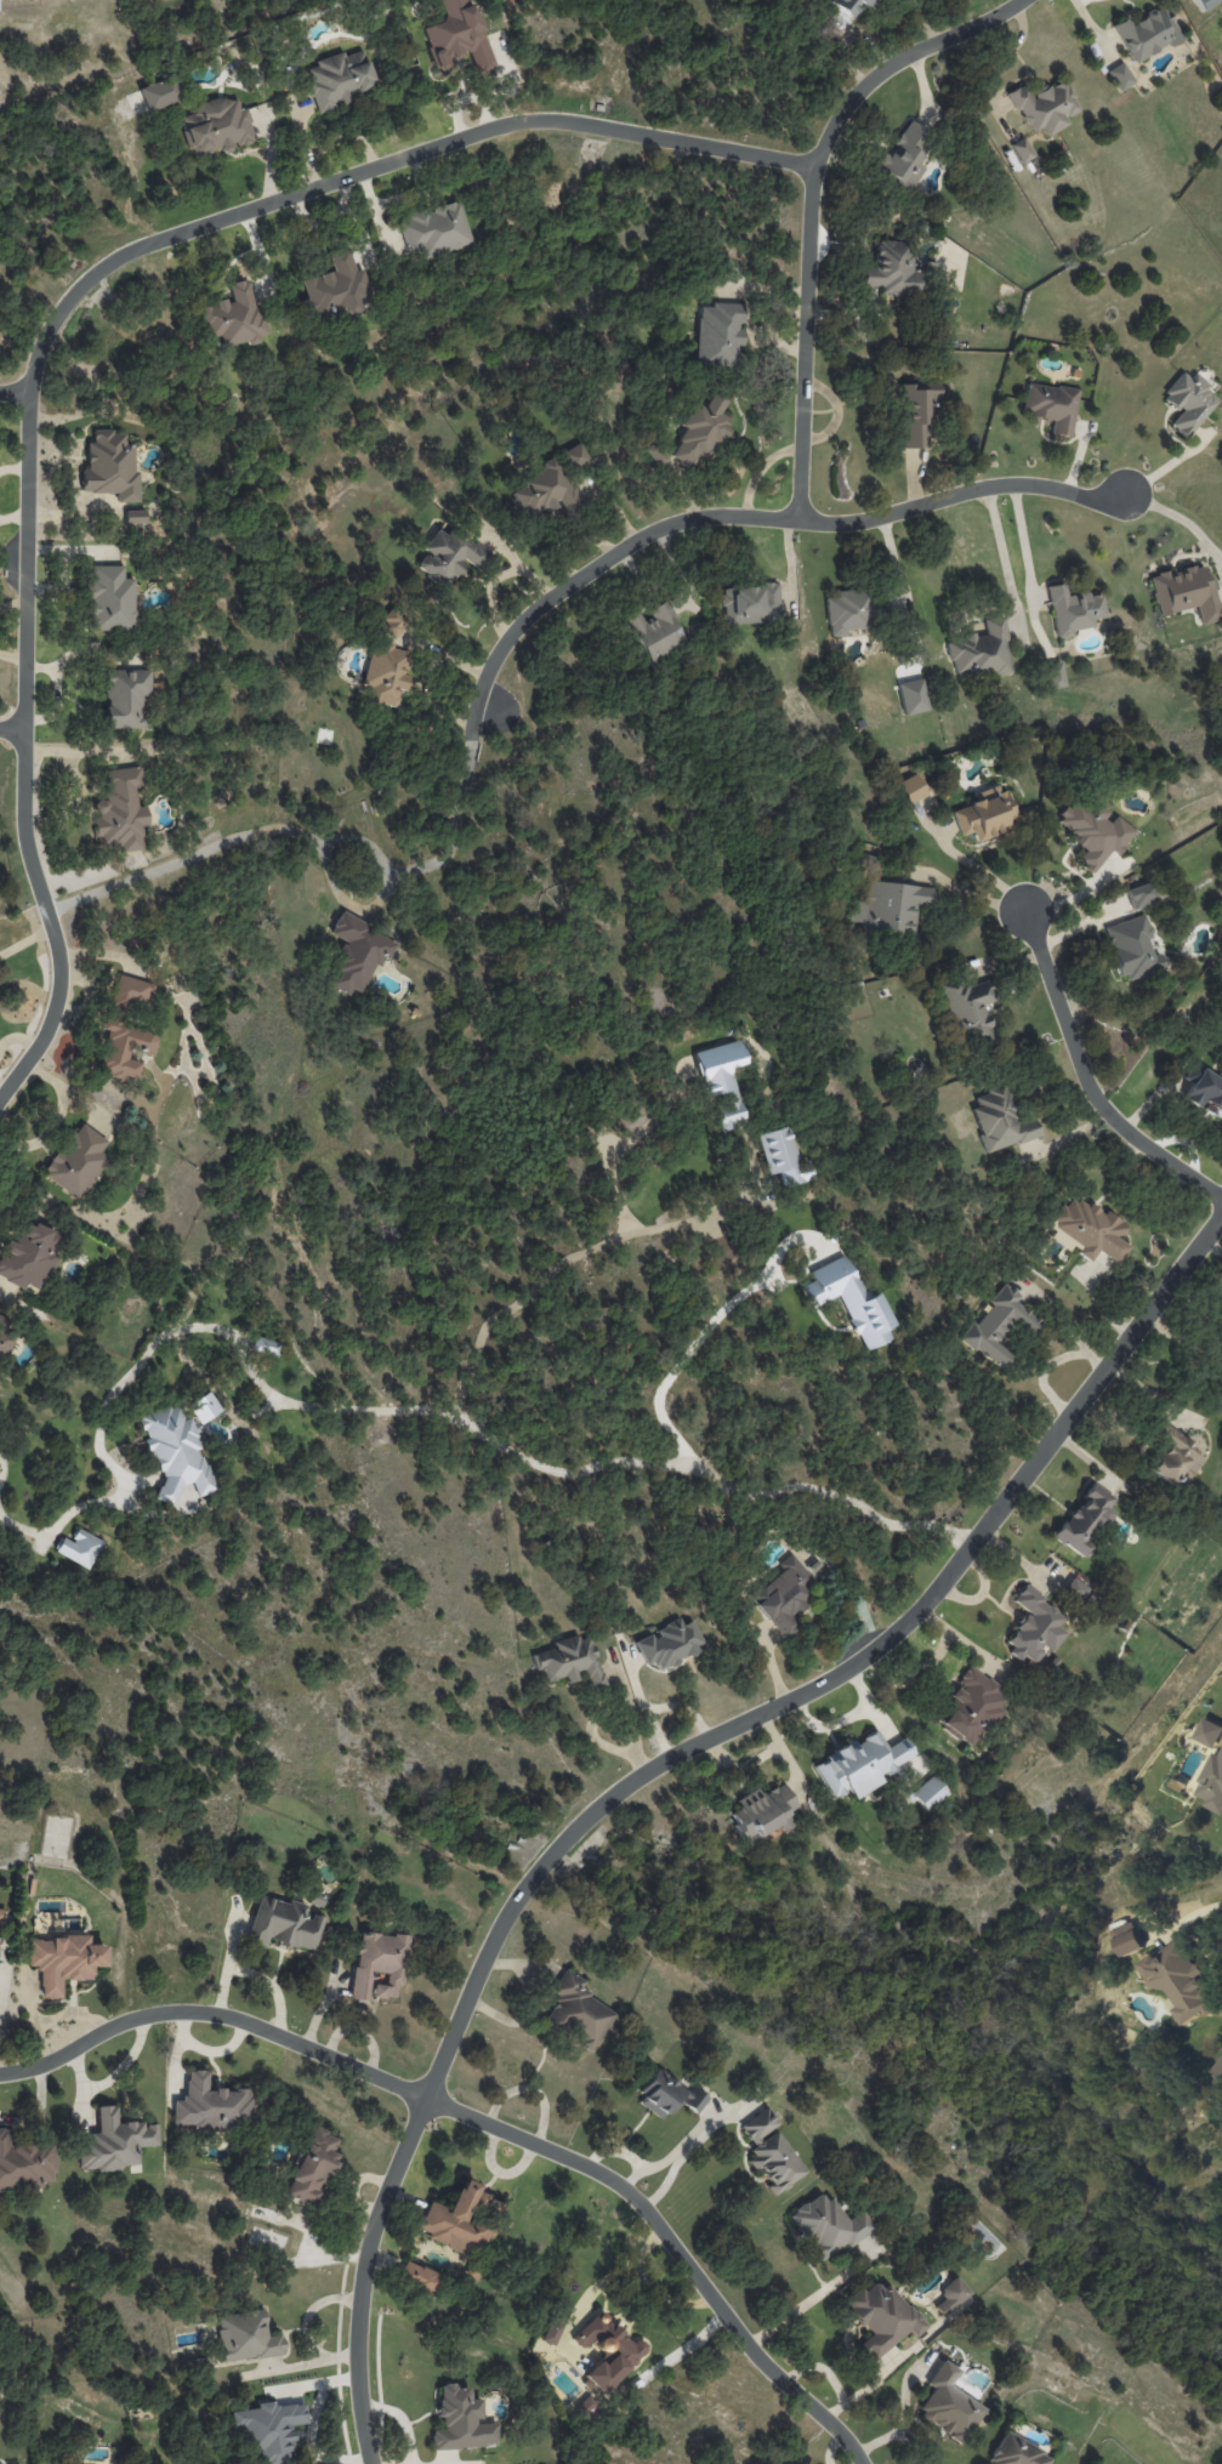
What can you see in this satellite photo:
building: (849, 6)
building: (1221, 6)
building: (1146, 33)
building: (456, 35)
building: (1120, 75)
building: (339, 79)
building: (158, 93)
building: (1044, 107)
building: (215, 126)
building: (1022, 150)
building: (905, 158)
road: (809, 204)
building: (434, 229)
building: (892, 268)
road: (56, 314)
building: (234, 317)
building: (718, 334)
road: (16, 391)
building: (1188, 402)
building: (1051, 405)
building: (917, 411)
building: (703, 431)
building: (655, 454)
building: (575, 455)
building: (109, 466)
building: (545, 490)
road: (758, 514)
building: (133, 516)
road: (1023, 539)
building: (449, 554)
building: (1186, 592)
building: (109, 599)
building: (750, 603)
building: (1073, 609)
building: (847, 610)
building: (393, 624)
building: (654, 630)
building: (979, 650)
building: (387, 673)
building: (1053, 675)
building: (125, 698)
road: (12, 728)
building: (910, 787)
building: (120, 809)
building: (984, 813)
building: (1093, 831)
road: (328, 853)
building: (863, 860)
road: (981, 871)
road: (966, 893)
building: (1139, 894)
building: (891, 906)
road: (358, 914)
building: (1132, 949)
building: (356, 954)
building: (129, 992)
building: (967, 1008)
building: (124, 1048)
road: (1085, 1080)
building: (721, 1081)
building: (1204, 1091)
building: (999, 1120)
building: (781, 1156)
building: (76, 1161)
building: (1089, 1229)
building: (29, 1254)
road: (556, 1267)
building: (848, 1301)
building: (998, 1325)
building: (4, 1336)
building: (263, 1345)
road: (687, 1354)
building: (203, 1406)
road: (403, 1406)
building: (175, 1452)
building: (1175, 1456)
road: (2, 1462)
building: (1085, 1519)
building: (79, 1548)
building: (1074, 1589)
building: (781, 1595)
building: (1034, 1627)
building: (670, 1643)
building: (569, 1661)
road: (624, 1686)
building: (970, 1707)
road: (593, 1723)
building: (1209, 1734)
road: (660, 1760)
building: (860, 1764)
building: (1212, 1785)
building: (928, 1792)
building: (761, 1811)
road: (1190, 1916)
building: (284, 1924)
building: (1127, 1940)
building: (62, 1961)
building: (377, 1965)
building: (1180, 1982)
road: (1, 1985)
building: (578, 2010)
road: (212, 2015)
building: (1218, 2068)
building: (667, 2095)
building: (209, 2105)
building: (114, 2141)
road: (688, 2144)
building: (769, 2151)
building: (27, 2163)
building: (312, 2167)
road: (650, 2167)
building: (455, 2223)
building: (826, 2225)
road: (672, 2242)
road: (610, 2275)
building: (419, 2277)
road: (813, 2295)
building: (950, 2295)
building: (881, 2316)
building: (551, 2331)
building: (245, 2335)
building: (607, 2350)
building: (949, 2405)
building: (460, 2420)
building: (268, 2430)
building: (1016, 2452)
building: (17, 2463)

